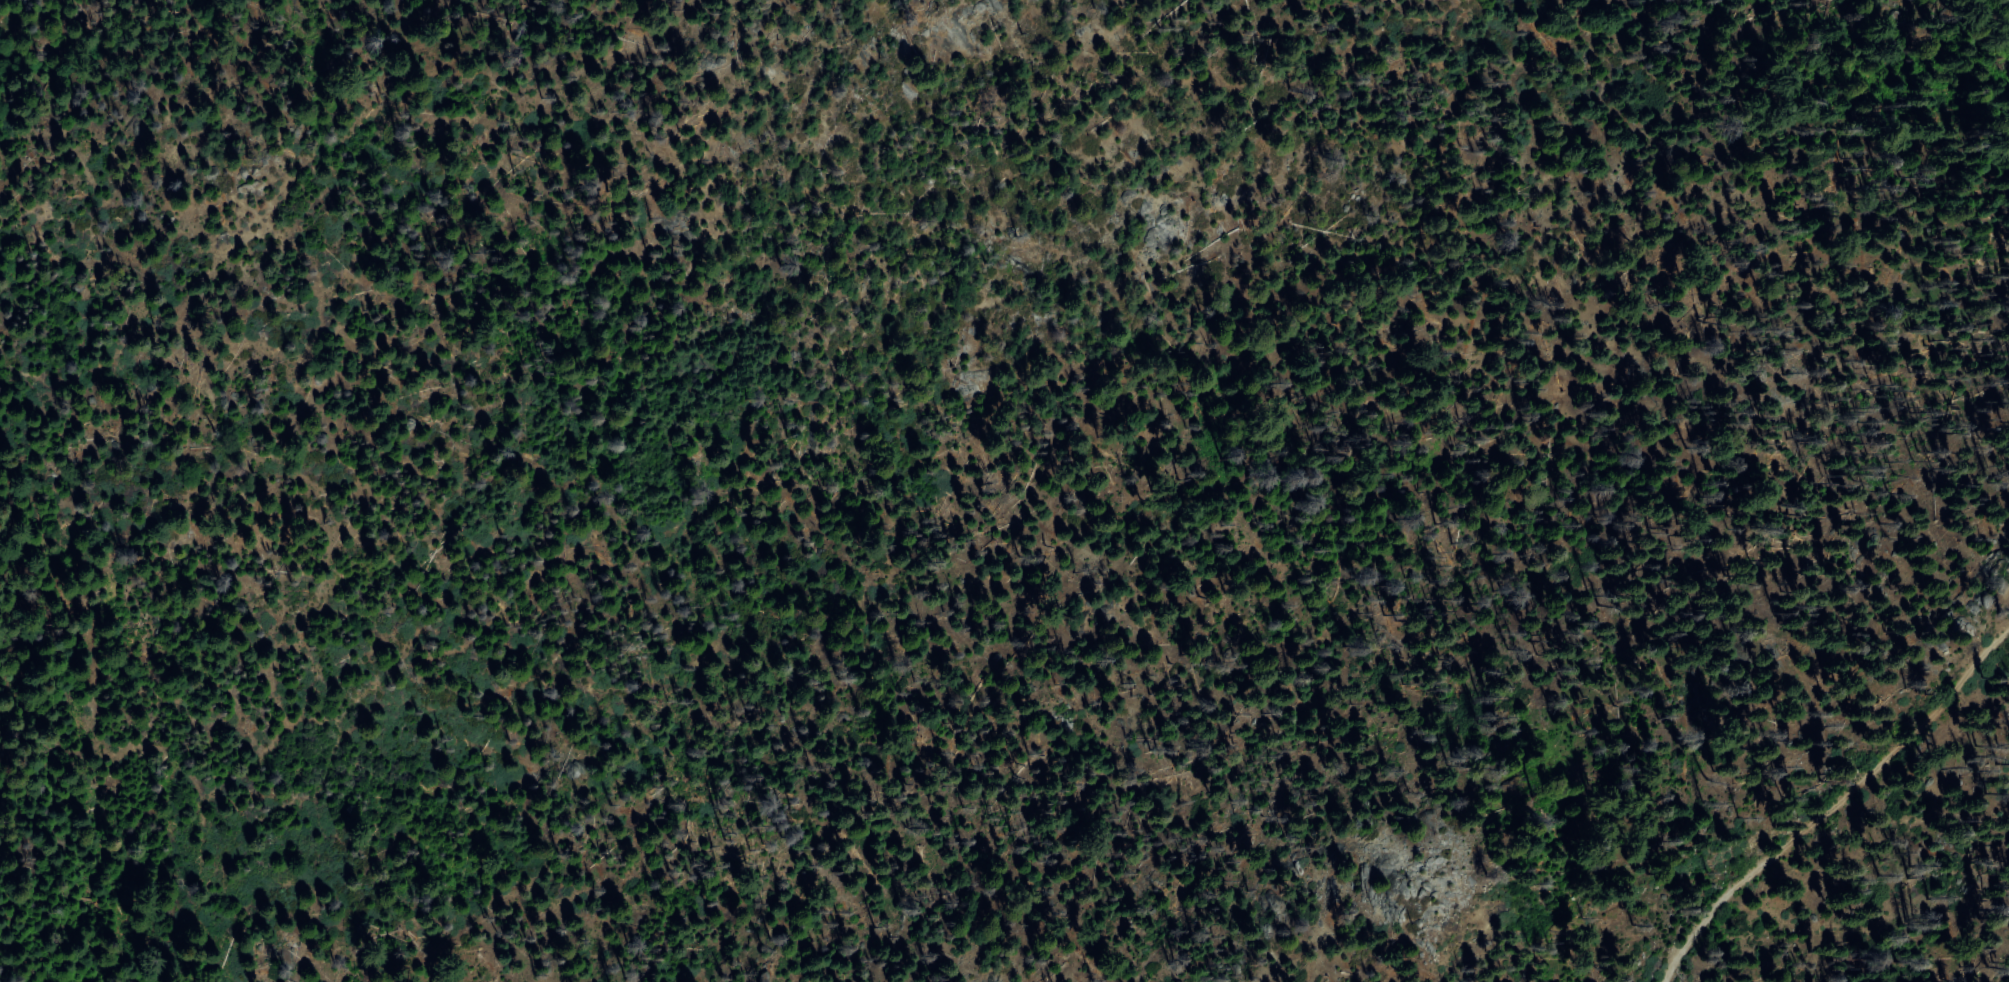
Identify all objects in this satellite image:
road: (1834, 804)

